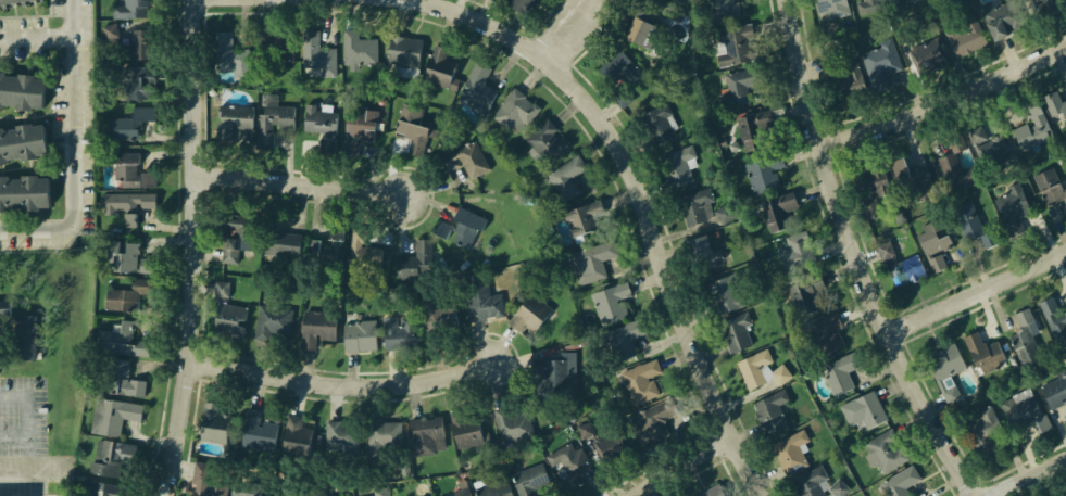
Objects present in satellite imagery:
building: (4, 0)
building: (497, 0)
building: (905, 1)
building: (866, 4)
building: (832, 7)
building: (130, 9)
building: (722, 10)
building: (1051, 10)
building: (523, 11)
building: (991, 20)
building: (631, 28)
building: (111, 33)
road: (570, 33)
road: (33, 35)
building: (965, 39)
building: (136, 44)
building: (275, 46)
building: (356, 48)
building: (728, 48)
building: (929, 50)
building: (401, 51)
building: (227, 53)
building: (316, 54)
building: (878, 61)
building: (830, 64)
building: (437, 66)
building: (611, 77)
building: (137, 82)
building: (851, 84)
building: (742, 86)
building: (477, 88)
building: (1054, 98)
building: (17, 99)
road: (946, 103)
building: (1028, 105)
building: (515, 110)
building: (272, 118)
building: (231, 119)
building: (318, 120)
building: (656, 123)
building: (126, 124)
building: (356, 125)
building: (410, 127)
building: (755, 128)
building: (974, 136)
building: (545, 142)
building: (722, 142)
building: (17, 143)
building: (327, 145)
building: (788, 145)
building: (896, 156)
building: (948, 156)
road: (76, 157)
building: (675, 157)
building: (464, 160)
building: (130, 171)
building: (565, 177)
building: (763, 177)
building: (913, 180)
building: (863, 185)
road: (301, 186)
building: (1048, 186)
building: (21, 191)
road: (644, 202)
building: (693, 204)
building: (1008, 205)
building: (121, 207)
building: (774, 208)
building: (868, 211)
building: (724, 215)
building: (961, 220)
building: (585, 222)
building: (457, 225)
building: (233, 234)
building: (335, 241)
building: (278, 244)
building: (931, 246)
road: (199, 249)
building: (701, 253)
building: (364, 254)
building: (786, 254)
building: (126, 257)
road: (860, 257)
building: (413, 260)
building: (590, 260)
building: (903, 270)
building: (222, 289)
road: (978, 292)
building: (126, 293)
building: (722, 294)
building: (803, 295)
building: (481, 302)
building: (609, 302)
building: (440, 306)
building: (2, 307)
building: (526, 313)
building: (1023, 317)
building: (226, 319)
building: (1054, 320)
building: (271, 321)
building: (315, 328)
building: (399, 331)
building: (735, 332)
building: (826, 333)
building: (356, 335)
building: (22, 336)
building: (625, 336)
building: (1023, 339)
building: (120, 340)
building: (980, 353)
building: (941, 368)
building: (758, 370)
building: (553, 373)
building: (838, 373)
building: (118, 379)
building: (638, 382)
road: (339, 384)
building: (1054, 391)
building: (769, 410)
building: (863, 410)
building: (1027, 410)
building: (111, 415)
road: (28, 417)
building: (650, 421)
building: (211, 423)
parking lot: (24, 425)
building: (512, 425)
building: (588, 428)
building: (982, 430)
building: (256, 433)
building: (424, 433)
building: (466, 433)
building: (293, 436)
building: (341, 436)
building: (382, 440)
building: (607, 445)
building: (883, 452)
building: (791, 453)
building: (110, 457)
building: (567, 465)
road: (687, 465)
road: (37, 475)
road: (1027, 478)
building: (529, 480)
building: (205, 483)
building: (811, 483)
building: (900, 483)
building: (99, 488)
building: (249, 488)
building: (493, 488)
building: (839, 488)
building: (463, 489)
building: (1061, 491)
building: (288, 492)
building: (381, 492)
building: (710, 492)
building: (444, 494)
building: (324, 495)

